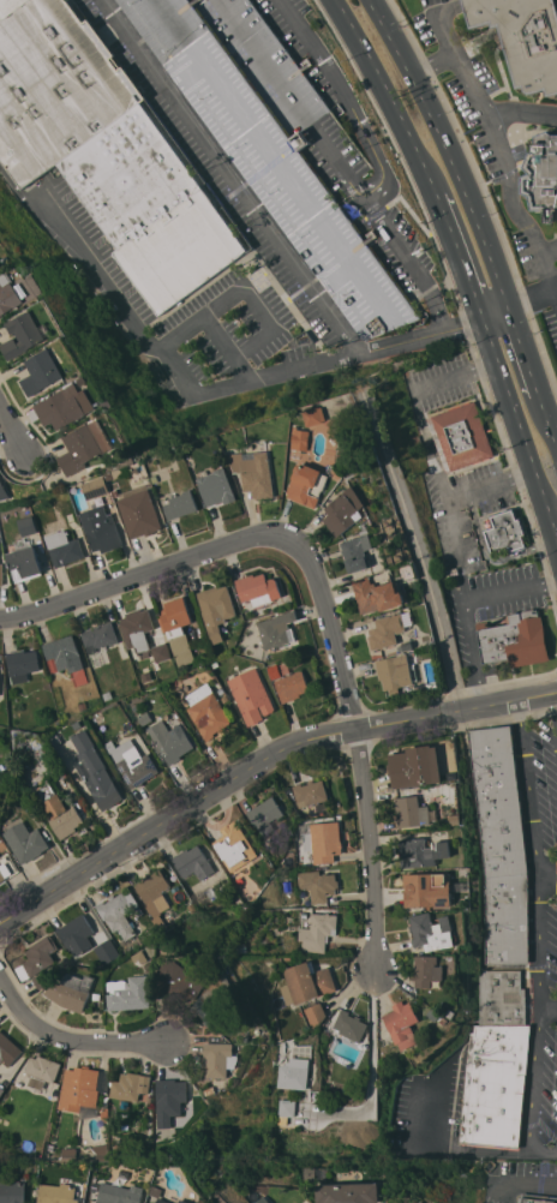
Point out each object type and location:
building: (7, 5)
building: (523, 37)
parking lot: (312, 54)
road: (383, 90)
road: (520, 112)
road: (363, 134)
building: (271, 140)
road: (447, 149)
building: (106, 150)
road: (497, 152)
building: (545, 174)
parking lot: (65, 222)
road: (274, 240)
road: (454, 251)
road: (547, 253)
road: (402, 258)
building: (0, 263)
building: (0, 269)
building: (10, 294)
road: (532, 300)
road: (256, 306)
building: (24, 335)
road: (151, 342)
road: (526, 358)
building: (44, 369)
road: (242, 370)
road: (453, 375)
building: (66, 406)
road: (511, 414)
building: (315, 415)
road: (551, 427)
road: (12, 430)
building: (460, 436)
building: (301, 438)
road: (430, 445)
building: (83, 448)
building: (254, 473)
building: (0, 479)
building: (307, 484)
road: (489, 484)
building: (95, 487)
building: (217, 490)
building: (0, 495)
building: (180, 504)
building: (342, 510)
building: (139, 511)
building: (28, 526)
building: (101, 528)
road: (551, 531)
building: (505, 532)
building: (64, 547)
road: (419, 550)
road: (455, 550)
building: (358, 551)
building: (25, 561)
building: (1, 573)
road: (132, 579)
building: (259, 588)
road: (509, 589)
building: (376, 595)
building: (216, 609)
building: (137, 628)
building: (178, 628)
building: (276, 629)
building: (387, 630)
building: (98, 636)
building: (515, 640)
building: (161, 652)
building: (65, 653)
road: (471, 653)
building: (22, 664)
building: (394, 672)
building: (292, 686)
building: (251, 695)
road: (555, 707)
building: (206, 711)
road: (355, 736)
building: (170, 741)
road: (259, 760)
building: (132, 762)
building: (417, 767)
building: (95, 771)
building: (310, 792)
building: (448, 792)
building: (498, 802)
building: (59, 812)
building: (411, 813)
building: (265, 815)
building: (25, 842)
building: (323, 842)
building: (234, 846)
building: (421, 852)
building: (193, 862)
building: (7, 867)
building: (318, 885)
building: (152, 890)
building: (427, 890)
building: (120, 912)
building: (507, 920)
building: (431, 930)
building: (317, 932)
building: (77, 934)
road: (539, 935)
building: (107, 951)
building: (40, 954)
building: (426, 970)
building: (42, 980)
building: (178, 981)
building: (307, 982)
building: (71, 990)
building: (131, 994)
building: (502, 998)
road: (547, 1000)
building: (218, 1003)
building: (315, 1013)
building: (401, 1021)
building: (351, 1025)
road: (71, 1041)
building: (7, 1049)
building: (218, 1059)
building: (43, 1067)
building: (294, 1073)
road: (372, 1076)
building: (496, 1084)
building: (127, 1087)
building: (83, 1088)
building: (1, 1090)
building: (169, 1096)
building: (287, 1107)
building: (100, 1153)
road: (511, 1183)
road: (549, 1183)
building: (12, 1192)
building: (348, 1192)
building: (56, 1193)
building: (118, 1193)
building: (157, 1193)
building: (537, 1198)
building: (263, 1199)
building: (184, 1201)
building: (418, 1202)

